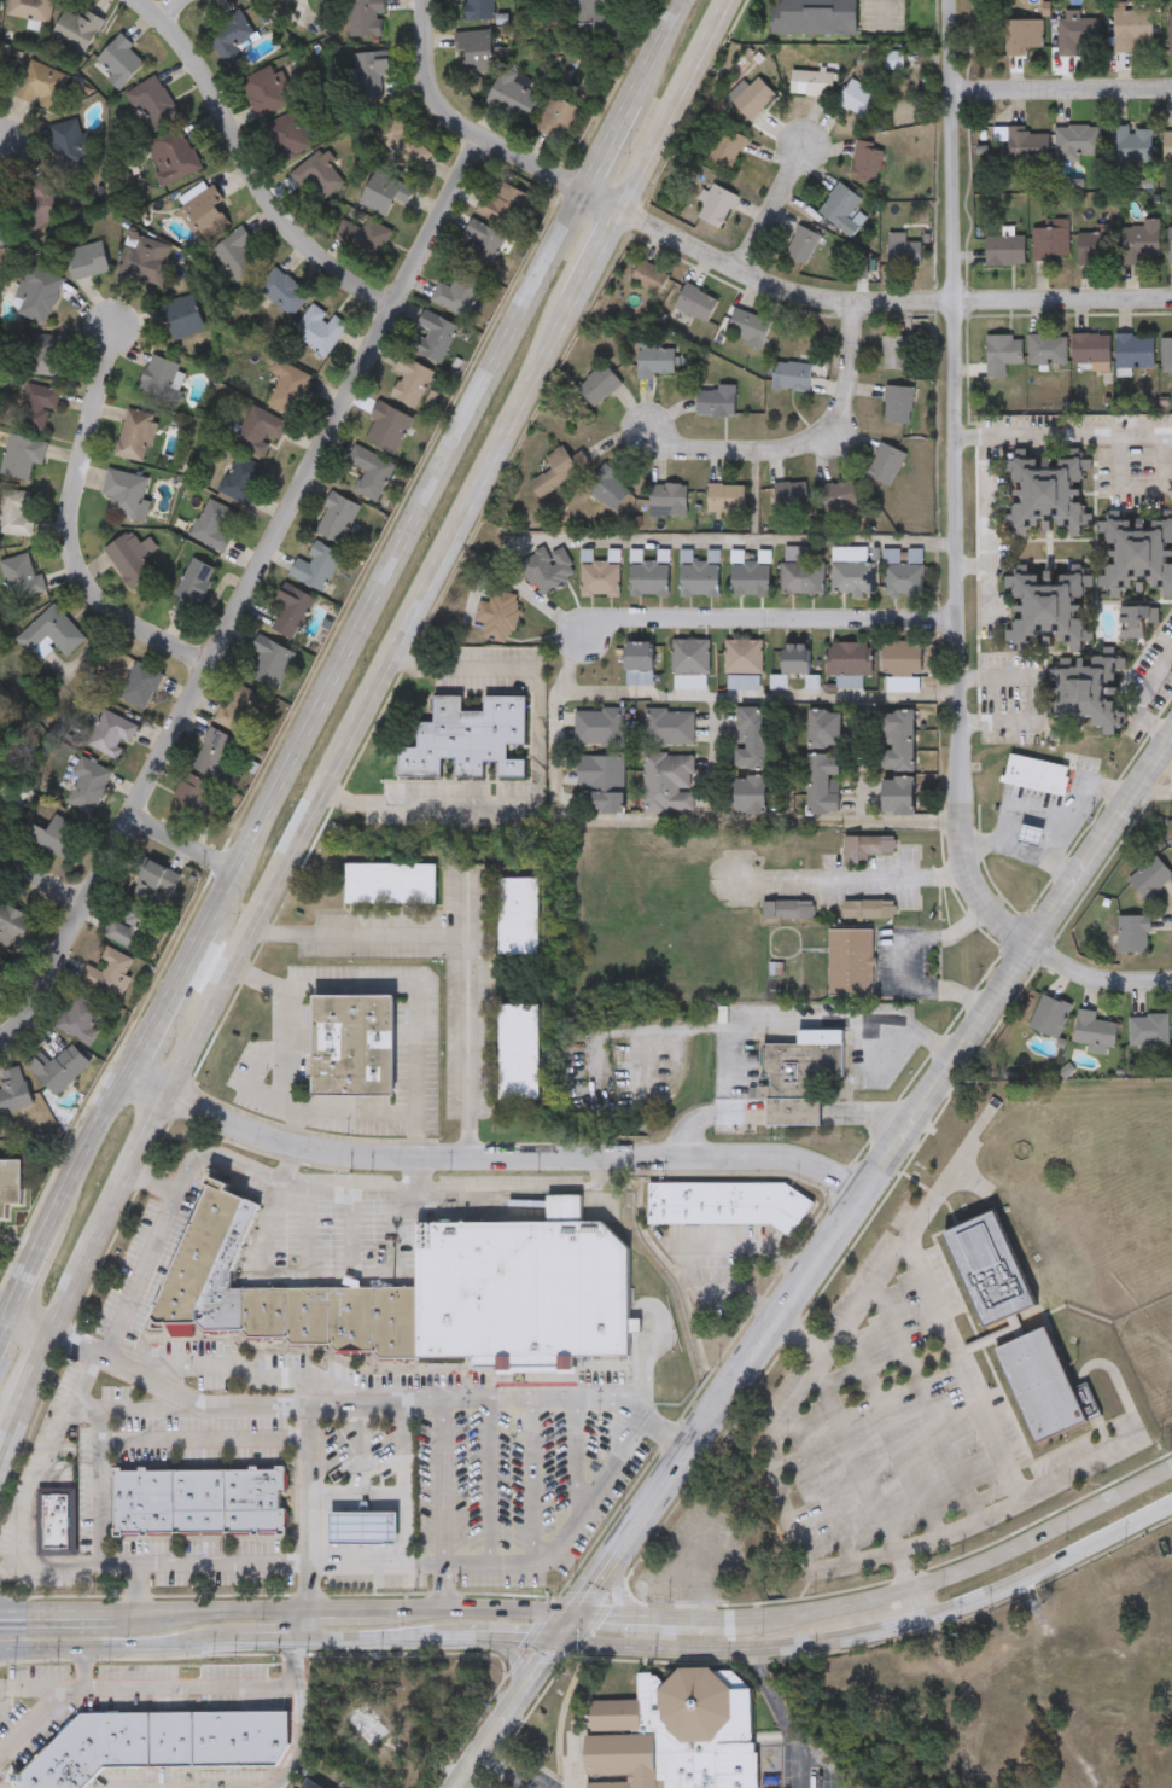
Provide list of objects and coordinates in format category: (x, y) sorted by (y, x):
building: (264, 0)
building: (0, 6)
road: (169, 10)
building: (31, 11)
building: (479, 11)
road: (884, 12)
building: (815, 17)
building: (367, 19)
building: (585, 19)
building: (77, 29)
building: (1130, 29)
building: (1170, 30)
building: (231, 34)
building: (1074, 34)
building: (1021, 36)
building: (476, 51)
building: (121, 63)
building: (371, 80)
building: (812, 85)
building: (42, 87)
building: (264, 94)
road: (1060, 94)
building: (513, 97)
building: (752, 99)
building: (858, 101)
building: (153, 105)
road: (682, 107)
building: (559, 121)
road: (4, 132)
building: (286, 140)
road: (479, 141)
building: (1078, 141)
building: (1024, 144)
building: (1131, 144)
building: (1167, 144)
building: (403, 145)
building: (71, 146)
building: (730, 151)
building: (177, 156)
road: (250, 159)
building: (868, 164)
building: (316, 179)
building: (385, 194)
building: (39, 205)
building: (502, 206)
building: (718, 208)
road: (772, 210)
building: (844, 211)
building: (204, 215)
building: (1, 229)
building: (365, 238)
building: (1141, 240)
building: (1049, 241)
building: (1170, 245)
building: (804, 246)
building: (483, 247)
building: (1095, 247)
building: (1004, 250)
building: (904, 252)
building: (237, 255)
road: (605, 260)
building: (88, 262)
building: (146, 262)
building: (651, 279)
building: (284, 293)
building: (37, 295)
building: (459, 296)
building: (696, 304)
road: (890, 304)
building: (182, 319)
building: (751, 330)
building: (320, 331)
building: (436, 338)
building: (1090, 348)
building: (1046, 349)
building: (1166, 350)
building: (1135, 351)
building: (1002, 353)
building: (896, 354)
building: (46, 357)
building: (655, 362)
building: (793, 379)
building: (163, 382)
building: (410, 383)
building: (600, 388)
building: (287, 389)
building: (717, 404)
building: (899, 407)
building: (37, 410)
building: (387, 429)
building: (261, 430)
road: (1063, 435)
building: (135, 437)
road: (805, 448)
building: (22, 458)
building: (887, 466)
building: (560, 472)
building: (371, 473)
building: (241, 479)
road: (956, 487)
road: (1139, 487)
building: (610, 489)
building: (124, 494)
building: (1049, 495)
building: (791, 496)
building: (840, 499)
building: (669, 500)
building: (727, 501)
building: (17, 514)
building: (338, 520)
road: (66, 525)
building: (214, 525)
road: (660, 542)
building: (803, 554)
building: (1139, 555)
building: (892, 557)
building: (130, 561)
building: (316, 567)
building: (547, 567)
building: (851, 570)
building: (699, 575)
building: (597, 576)
building: (801, 577)
building: (648, 578)
building: (750, 578)
building: (904, 578)
building: (22, 580)
building: (192, 589)
road: (243, 593)
building: (1049, 610)
building: (291, 611)
building: (497, 616)
building: (1136, 623)
road: (771, 627)
building: (51, 636)
building: (690, 656)
building: (742, 656)
building: (795, 658)
building: (902, 658)
building: (850, 659)
road: (331, 663)
building: (639, 663)
building: (267, 664)
building: (140, 687)
building: (1090, 692)
road: (1141, 695)
road: (760, 697)
road: (1037, 699)
building: (238, 710)
building: (599, 727)
building: (669, 728)
building: (823, 728)
building: (111, 736)
building: (750, 738)
building: (467, 739)
building: (899, 741)
building: (216, 755)
road: (861, 769)
road: (535, 774)
road: (715, 775)
building: (1038, 776)
building: (601, 779)
road: (1160, 779)
building: (669, 782)
building: (823, 782)
building: (87, 787)
building: (750, 794)
building: (897, 794)
building: (13, 796)
building: (193, 802)
road: (1075, 808)
road: (314, 815)
road: (666, 822)
building: (1032, 837)
building: (57, 839)
road: (177, 843)
building: (867, 846)
road: (1018, 854)
road: (42, 880)
road: (850, 880)
building: (1150, 880)
building: (152, 883)
building: (390, 884)
building: (870, 908)
building: (786, 909)
building: (520, 916)
road: (361, 928)
building: (130, 930)
building: (17, 931)
building: (1138, 936)
road: (899, 959)
building: (852, 961)
road: (1096, 974)
building: (109, 977)
building: (1, 979)
road: (466, 1018)
building: (1050, 1018)
building: (80, 1021)
building: (1149, 1032)
building: (1096, 1035)
road: (288, 1038)
road: (419, 1043)
building: (354, 1048)
building: (519, 1053)
building: (60, 1071)
building: (795, 1079)
building: (13, 1097)
road: (415, 1136)
road: (490, 1158)
road: (286, 1163)
road: (414, 1172)
road: (302, 1181)
road: (153, 1184)
building: (10, 1188)
building: (727, 1206)
road: (897, 1251)
road: (689, 1252)
road: (815, 1262)
building: (991, 1271)
building: (523, 1293)
parking lot: (0, 1294)
building: (279, 1297)
road: (4, 1312)
road: (31, 1323)
road: (40, 1371)
building: (1042, 1387)
road: (368, 1400)
road: (147, 1409)
parking lot: (908, 1428)
road: (987, 1428)
road: (203, 1440)
road: (846, 1443)
parking lot: (412, 1444)
road: (12, 1445)
road: (398, 1448)
road: (103, 1472)
road: (302, 1483)
road: (385, 1496)
building: (199, 1503)
road: (782, 1513)
building: (56, 1525)
road: (262, 1563)
road: (1050, 1565)
road: (955, 1573)
road: (444, 1585)
road: (303, 1586)
road: (132, 1588)
road: (618, 1595)
road: (920, 1603)
road: (345, 1609)
road: (12, 1611)
traffic signals: (579, 1612)
road: (649, 1612)
road: (57, 1615)
road: (302, 1627)
road: (874, 1633)
road: (381, 1643)
road: (269, 1644)
road: (511, 1644)
road: (118, 1646)
traffic signals: (558, 1646)
road: (690, 1647)
road: (13, 1650)
road: (521, 1664)
road: (83, 1666)
road: (148, 1684)
road: (967, 1695)
road: (783, 1713)
road: (296, 1722)
building: (1125, 1723)
building: (367, 1726)
building: (675, 1735)
building: (159, 1743)
road: (503, 1774)
building: (310, 1786)

